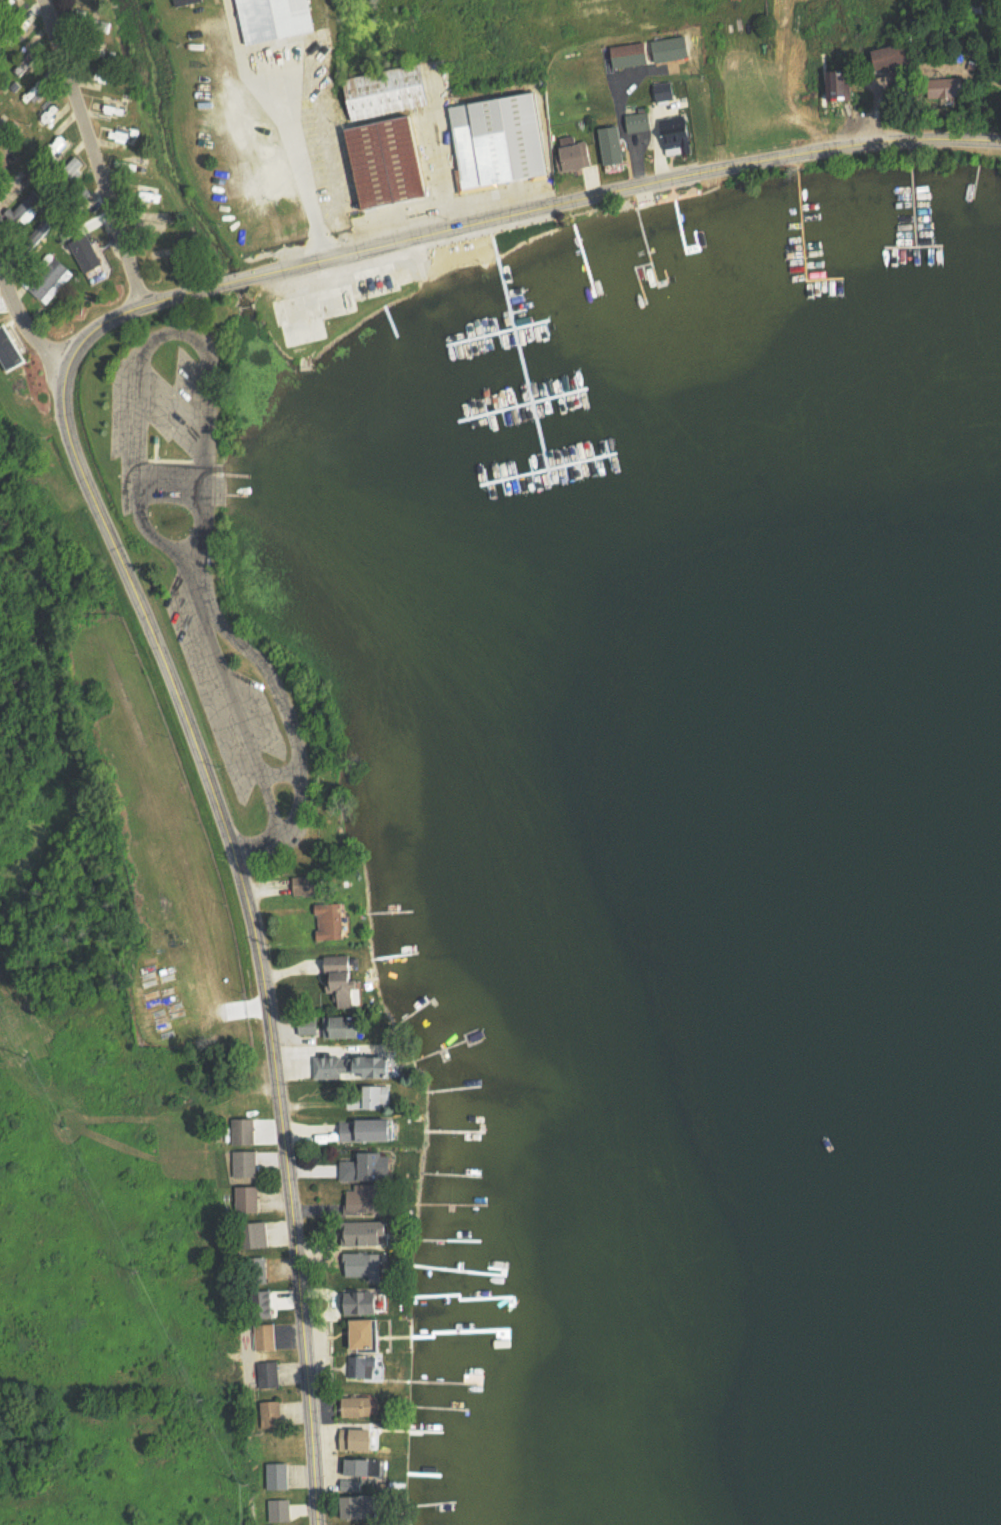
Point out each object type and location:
building: (185, 2)
building: (273, 19)
building: (671, 48)
building: (631, 55)
building: (893, 56)
building: (27, 59)
building: (842, 85)
building: (954, 87)
building: (664, 91)
building: (50, 115)
building: (639, 122)
building: (118, 134)
building: (388, 135)
building: (676, 135)
building: (500, 142)
building: (613, 145)
road: (89, 155)
building: (573, 155)
road: (645, 187)
building: (24, 207)
building: (84, 253)
road: (259, 274)
building: (50, 281)
pier: (497, 330)
road: (22, 333)
road: (176, 333)
building: (9, 350)
pier: (521, 355)
pier: (527, 402)
pier: (546, 464)
road: (227, 486)
park: (205, 567)
road: (230, 840)
road: (256, 844)
building: (309, 885)
building: (329, 921)
building: (344, 980)
building: (308, 1026)
building: (343, 1027)
building: (354, 1067)
building: (377, 1097)
building: (369, 1130)
building: (243, 1131)
building: (245, 1163)
building: (368, 1167)
building: (368, 1198)
building: (247, 1199)
building: (257, 1235)
building: (365, 1265)
building: (366, 1304)
building: (263, 1308)
building: (366, 1334)
building: (362, 1366)
building: (268, 1375)
building: (360, 1406)
building: (270, 1414)
building: (358, 1439)
building: (365, 1467)
building: (277, 1475)
building: (352, 1485)
building: (360, 1507)
building: (279, 1510)

